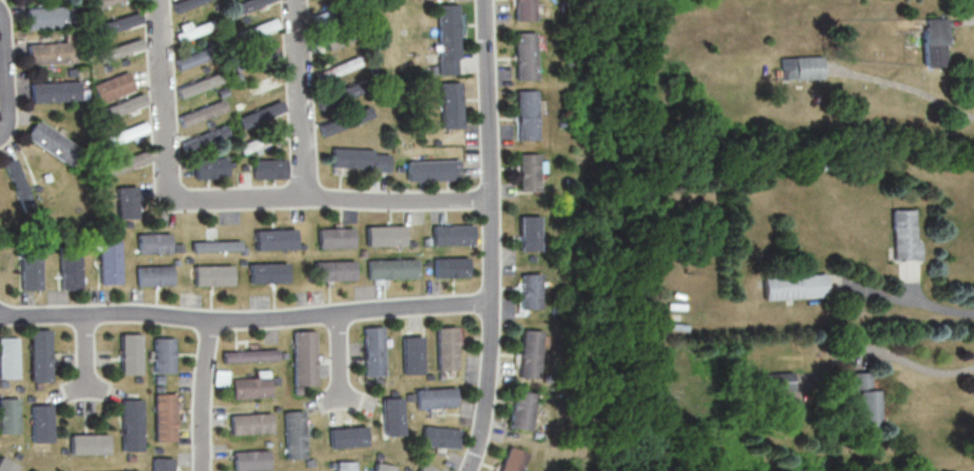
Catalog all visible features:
building: (99, 2)
building: (183, 4)
building: (244, 5)
building: (524, 10)
building: (98, 11)
building: (337, 12)
building: (46, 16)
building: (243, 18)
building: (116, 23)
building: (195, 28)
building: (256, 28)
building: (446, 30)
building: (348, 33)
building: (935, 41)
building: (118, 49)
building: (51, 52)
building: (373, 52)
building: (197, 55)
building: (525, 55)
building: (256, 57)
building: (123, 60)
building: (446, 65)
building: (105, 67)
building: (802, 67)
building: (203, 68)
building: (338, 68)
building: (432, 68)
road: (4, 75)
building: (235, 76)
building: (197, 84)
building: (111, 86)
building: (54, 90)
building: (346, 90)
building: (221, 91)
road: (160, 97)
road: (298, 98)
building: (449, 104)
building: (120, 106)
building: (200, 112)
building: (259, 113)
building: (525, 114)
building: (343, 120)
building: (208, 122)
building: (559, 123)
building: (118, 136)
building: (203, 137)
building: (51, 140)
building: (260, 140)
building: (434, 141)
building: (256, 150)
building: (349, 156)
building: (377, 162)
building: (125, 163)
building: (228, 163)
building: (209, 166)
building: (242, 166)
building: (267, 167)
building: (397, 167)
building: (430, 168)
building: (526, 171)
building: (18, 183)
building: (105, 184)
road: (326, 197)
building: (125, 201)
building: (127, 223)
building: (527, 233)
building: (450, 234)
building: (382, 235)
building: (904, 235)
road: (487, 236)
building: (333, 237)
building: (273, 238)
building: (424, 241)
building: (152, 242)
building: (409, 242)
building: (92, 244)
building: (213, 245)
building: (299, 245)
building: (176, 247)
building: (241, 250)
building: (360, 252)
building: (529, 256)
building: (185, 259)
building: (107, 261)
building: (240, 261)
building: (174, 262)
building: (425, 262)
building: (448, 266)
building: (389, 267)
building: (30, 270)
building: (69, 270)
building: (331, 270)
building: (265, 272)
building: (210, 274)
building: (152, 275)
building: (794, 286)
building: (529, 290)
road: (941, 306)
road: (244, 321)
building: (446, 348)
building: (372, 350)
building: (530, 352)
building: (129, 353)
building: (40, 354)
building: (246, 354)
building: (280, 354)
building: (411, 354)
road: (84, 355)
building: (162, 355)
building: (8, 357)
building: (301, 357)
road: (336, 361)
road: (928, 367)
building: (441, 375)
building: (217, 376)
building: (429, 376)
building: (271, 379)
building: (377, 380)
building: (779, 381)
building: (249, 385)
building: (392, 392)
road: (197, 395)
building: (409, 396)
building: (436, 397)
building: (864, 399)
building: (273, 408)
building: (523, 409)
building: (9, 415)
building: (162, 416)
building: (392, 416)
building: (41, 423)
building: (248, 423)
building: (130, 424)
building: (291, 434)
building: (538, 434)
building: (346, 436)
building: (441, 436)
building: (264, 442)
building: (88, 443)
building: (377, 455)
building: (514, 459)
building: (248, 460)
building: (306, 462)
building: (7, 464)
building: (160, 464)
building: (329, 464)
building: (343, 466)
building: (382, 467)
building: (426, 467)
building: (405, 468)
building: (132, 470)

